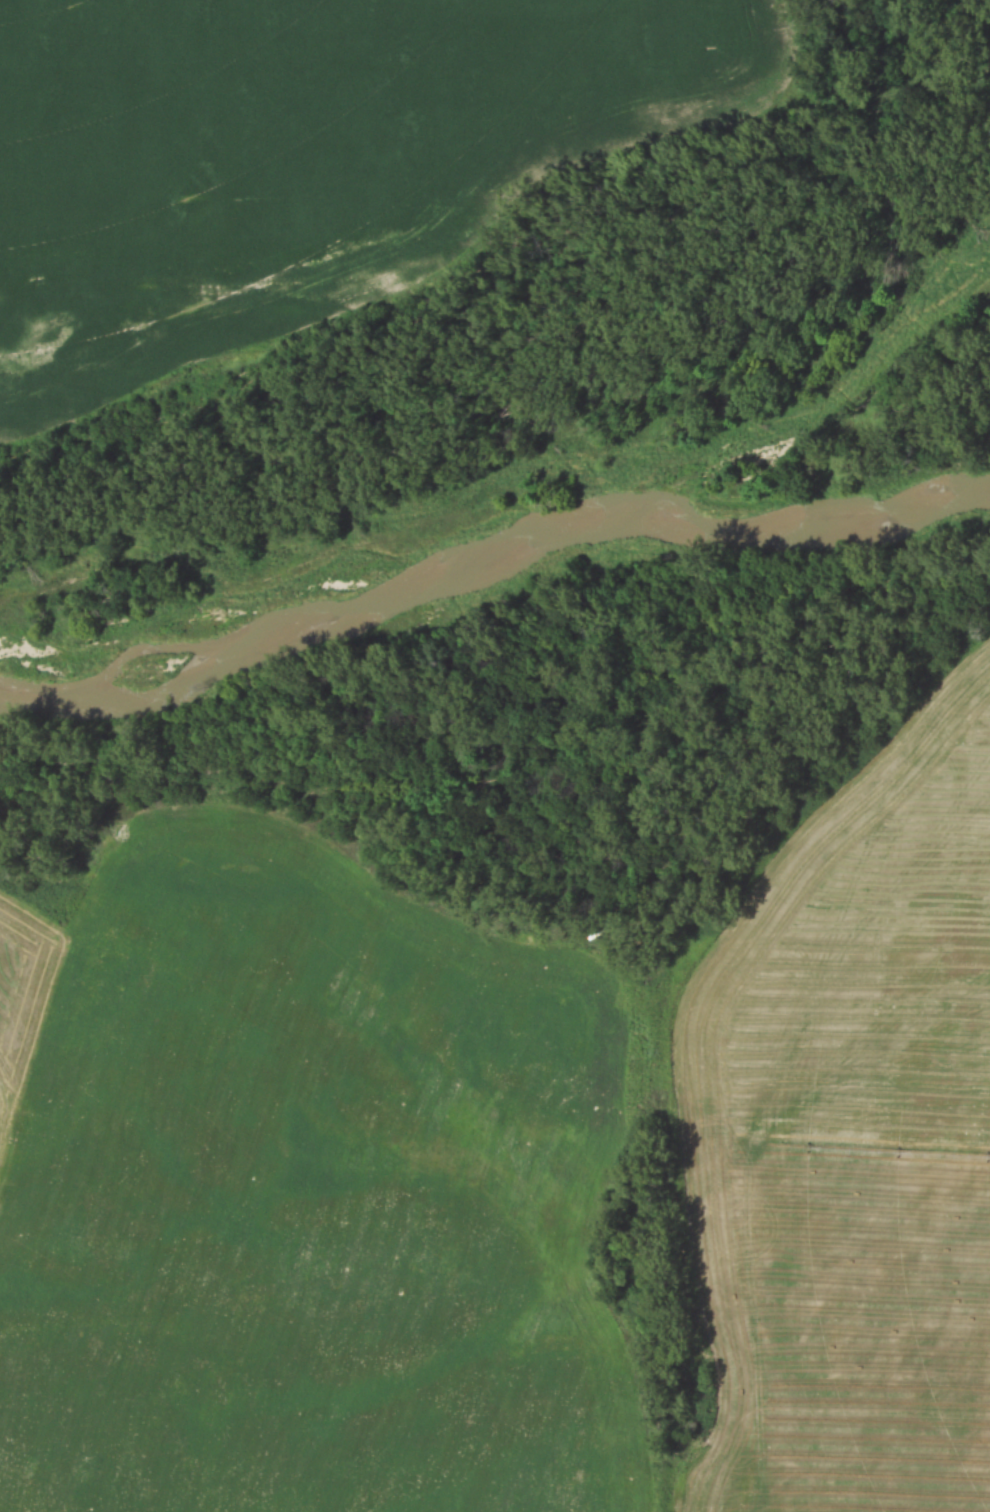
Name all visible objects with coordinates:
river: (487, 557)

